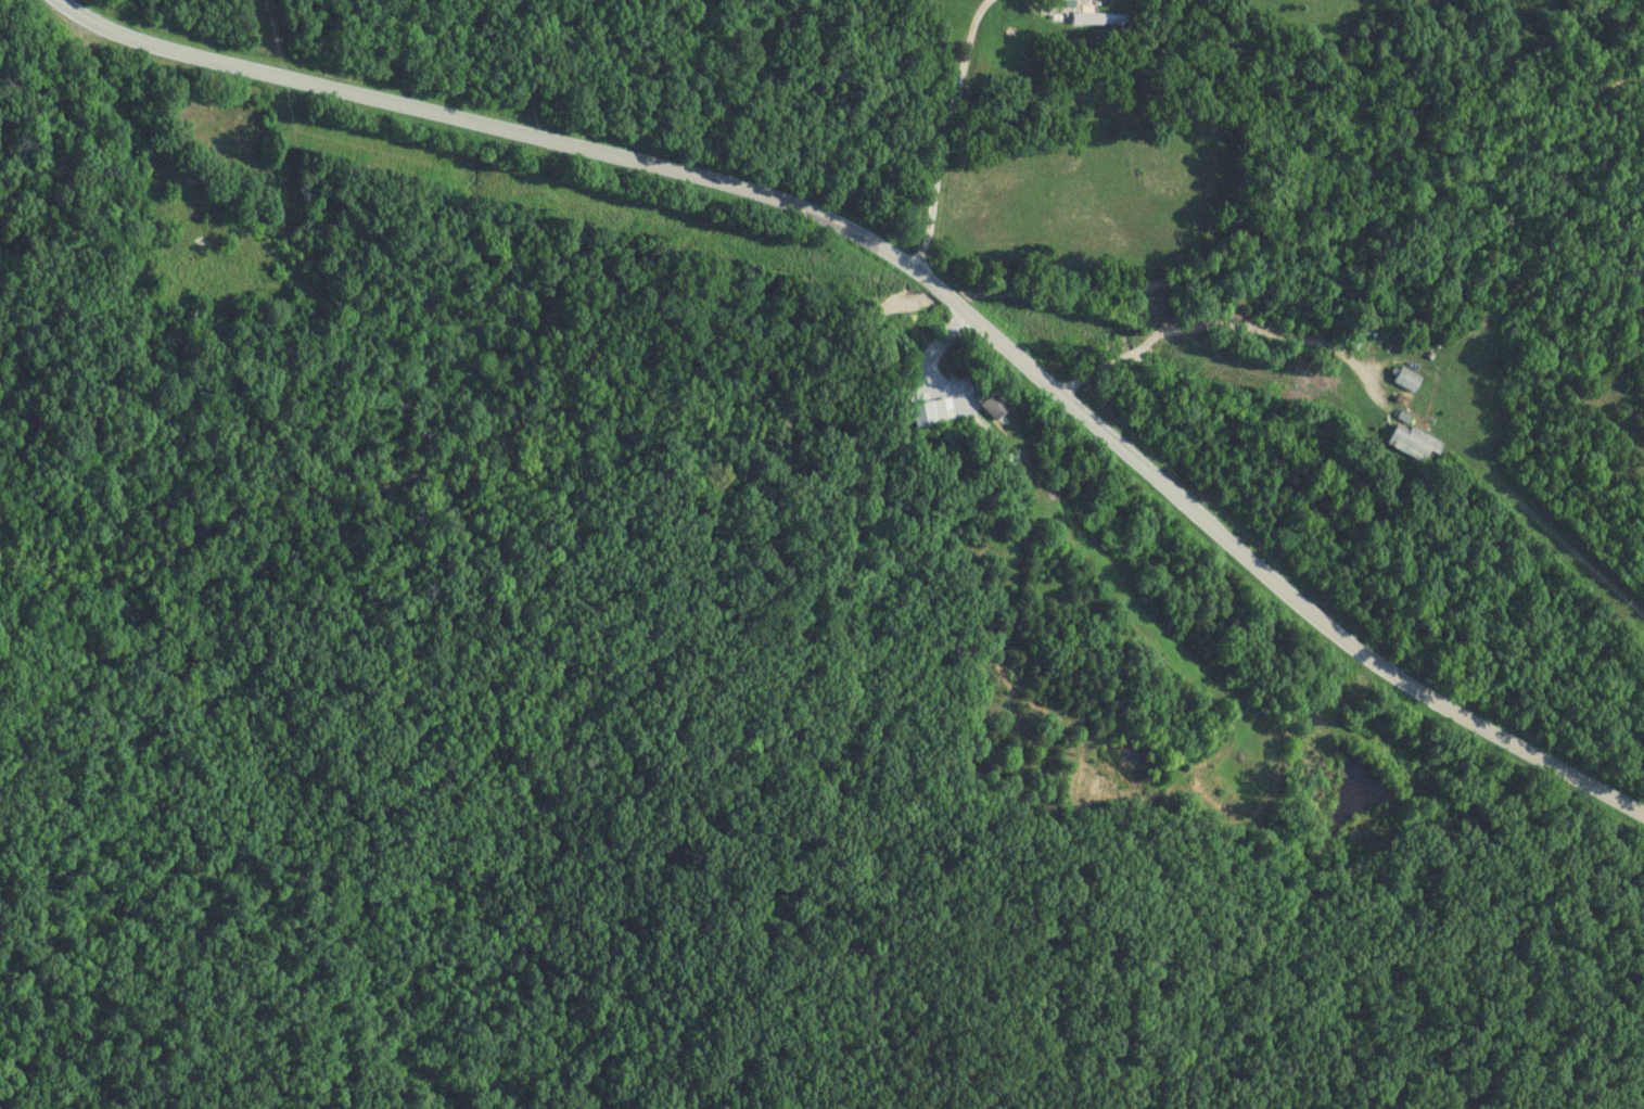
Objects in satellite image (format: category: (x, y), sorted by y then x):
road: (135, 118)
road: (946, 133)
building: (191, 215)
road: (920, 272)
road: (1222, 323)
building: (1409, 381)
building: (996, 407)
building: (933, 413)
building: (1417, 445)

